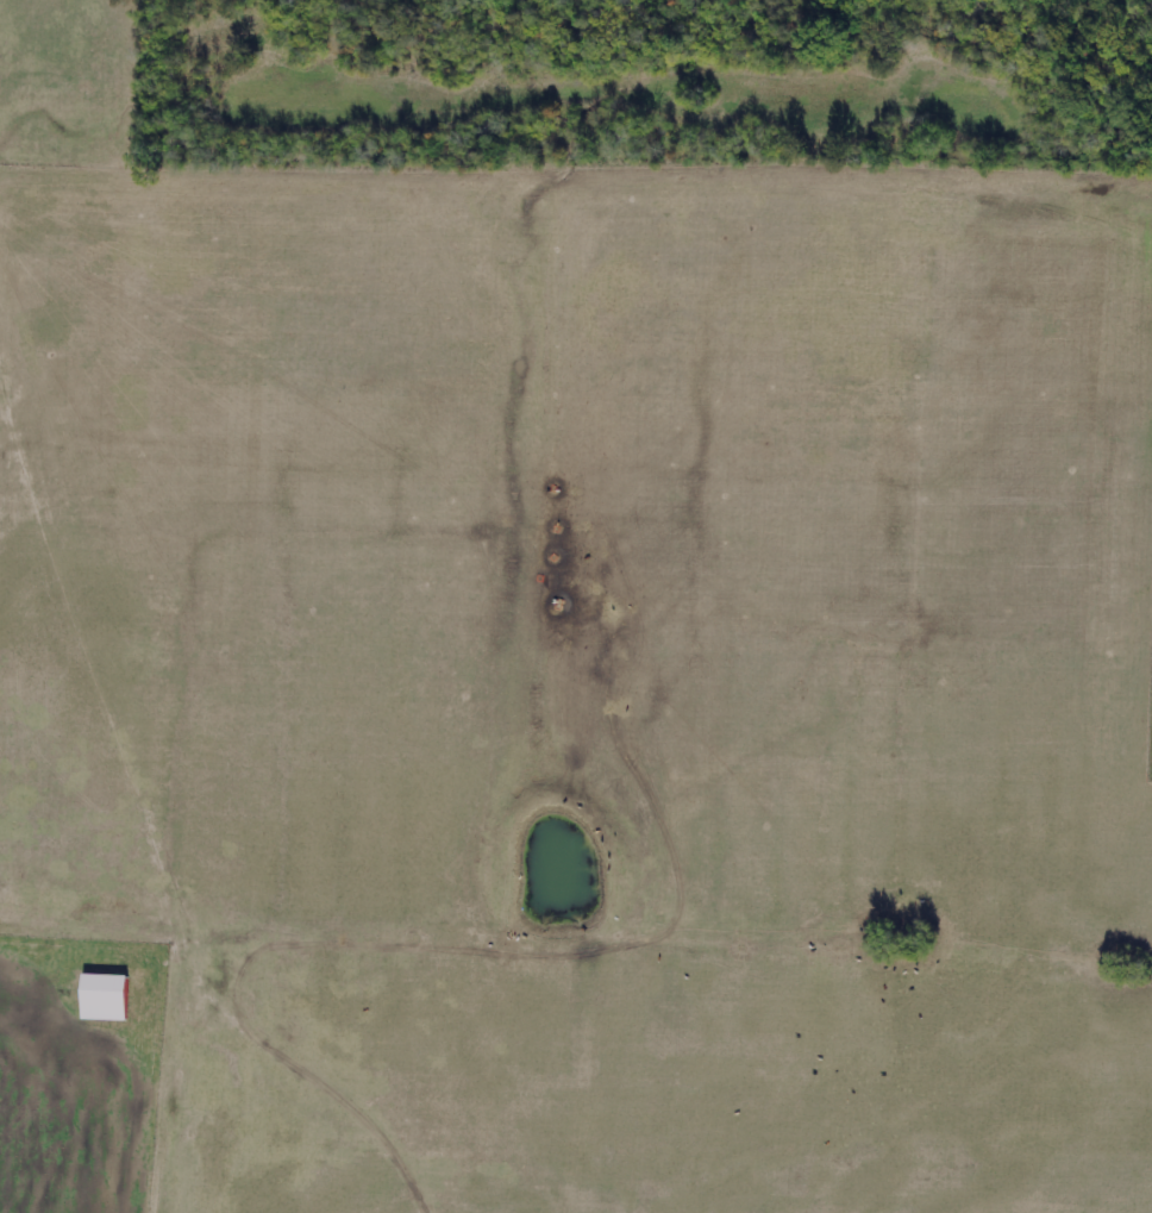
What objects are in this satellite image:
building: (102, 996)

